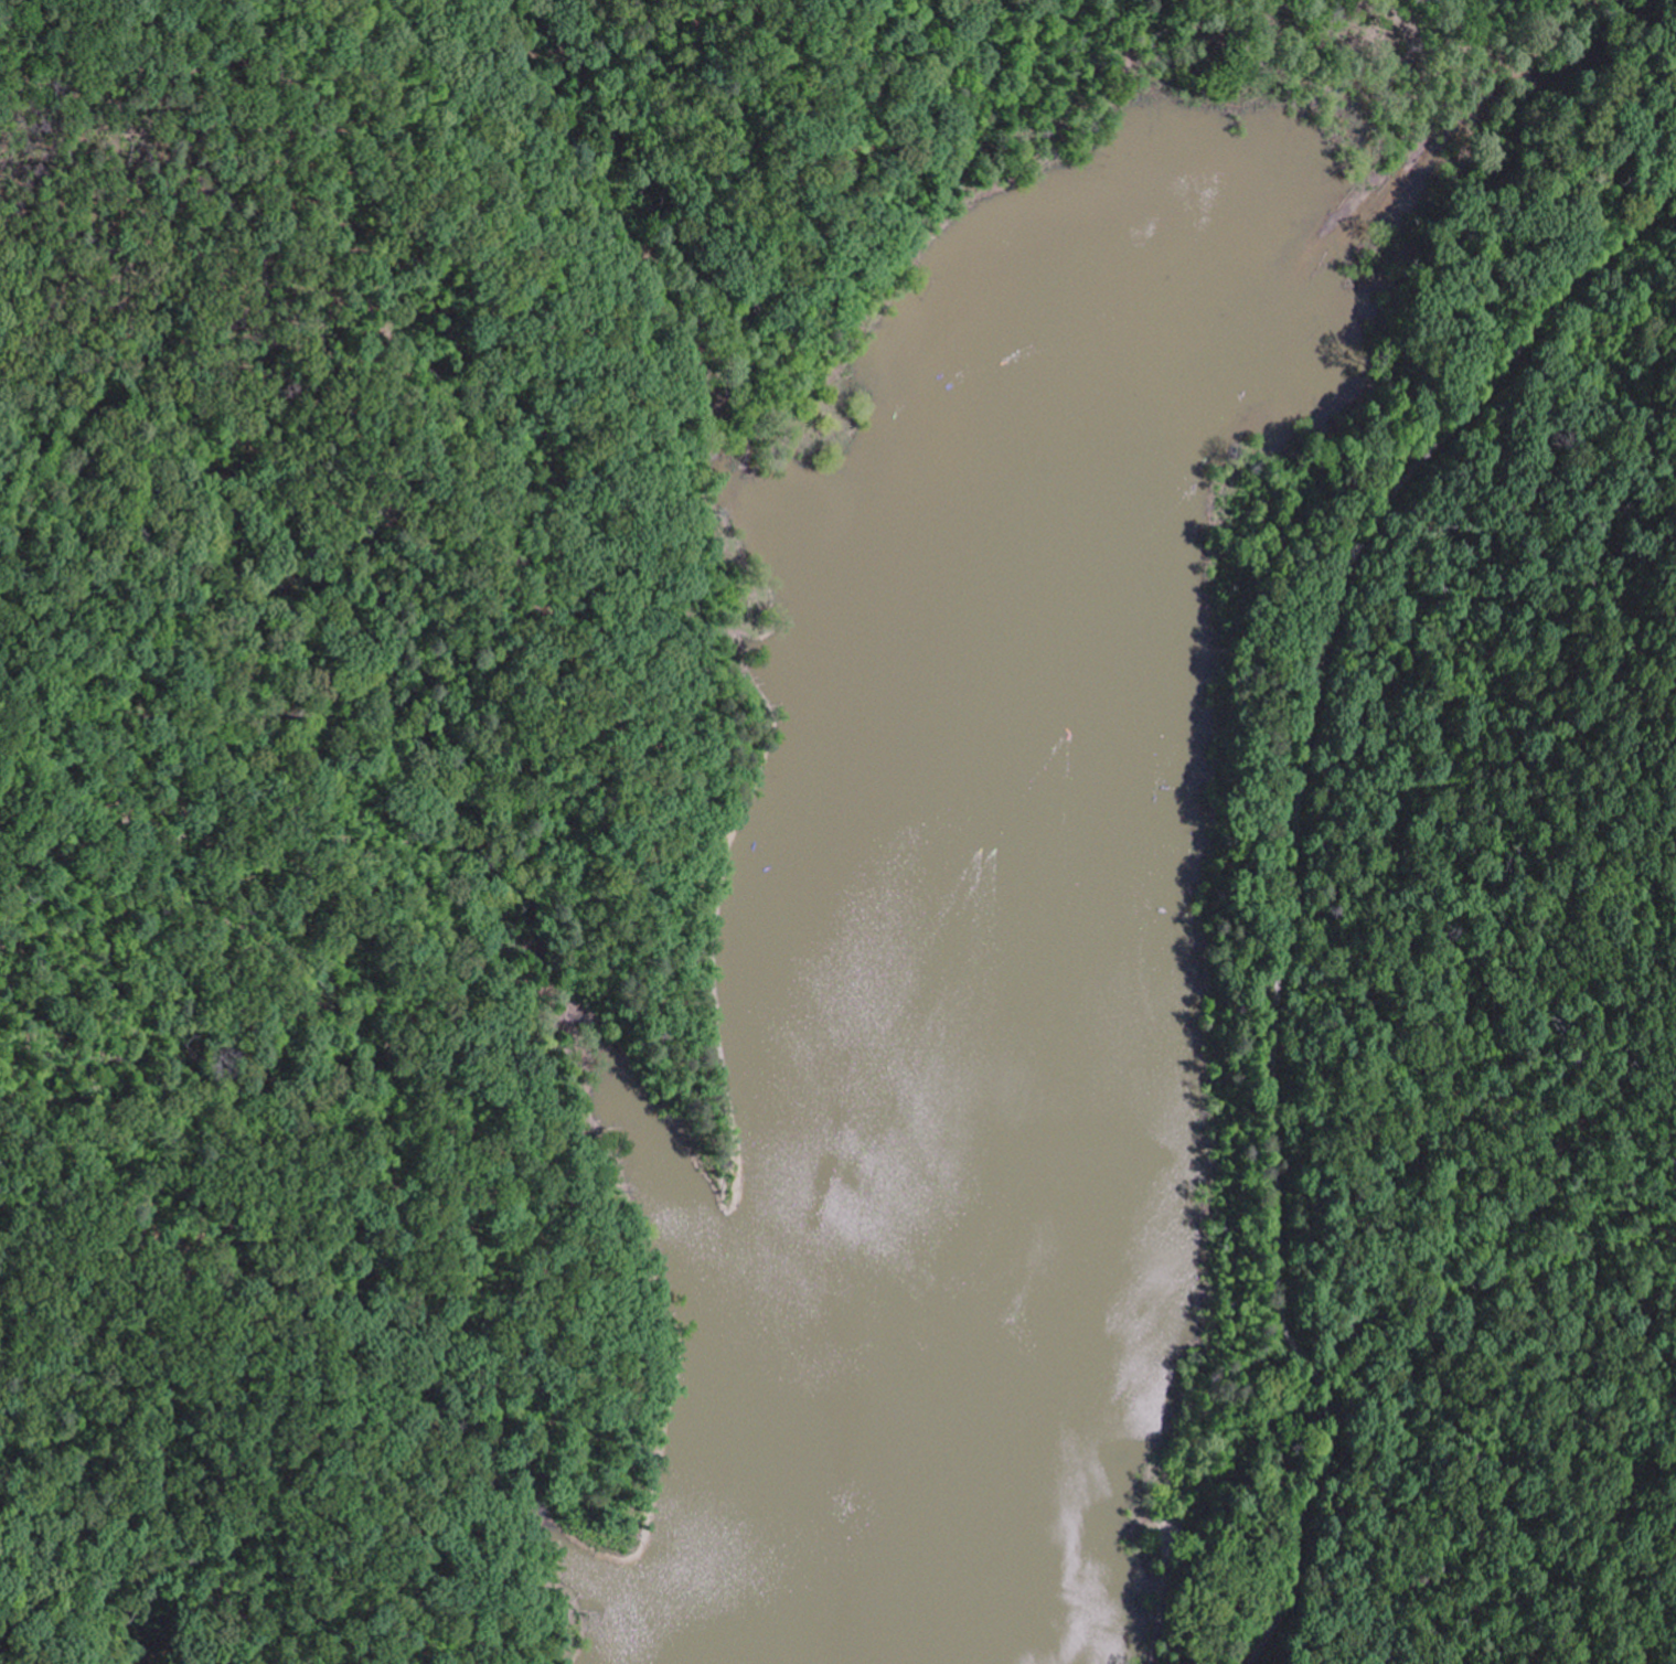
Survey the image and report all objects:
road: (1295, 873)
road: (1164, 1594)

